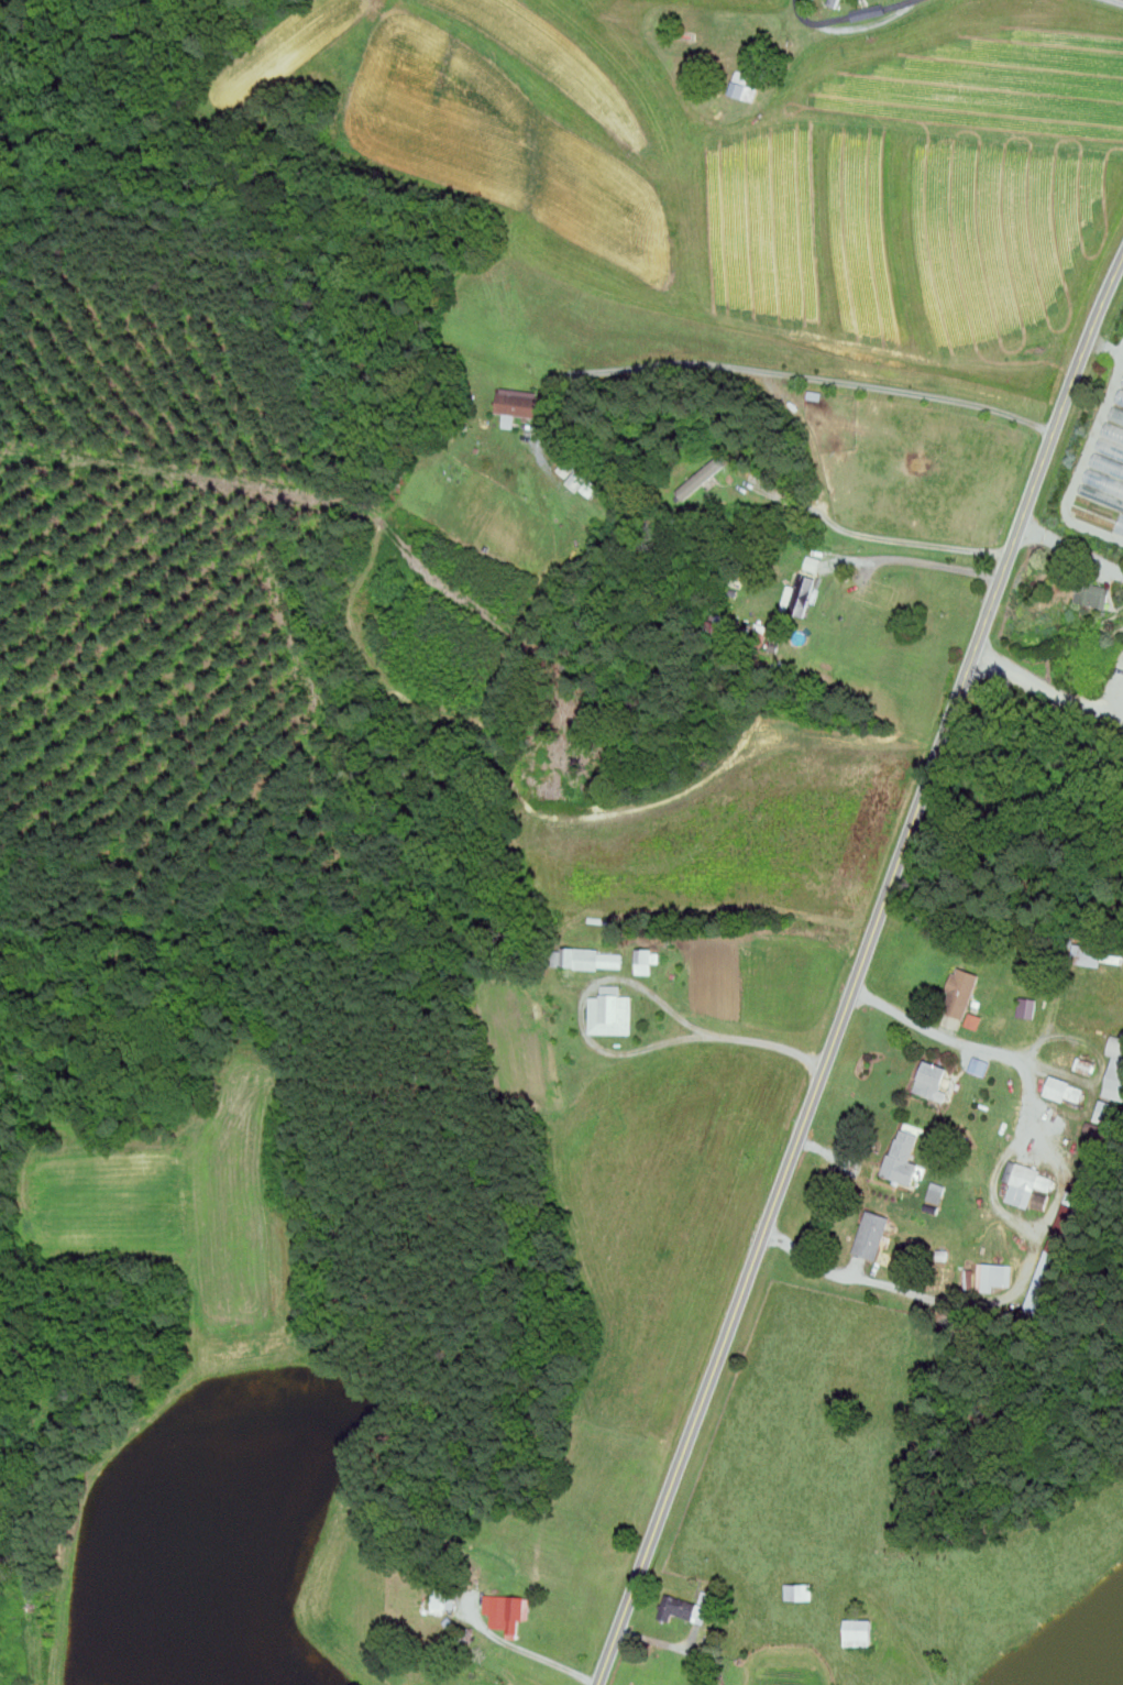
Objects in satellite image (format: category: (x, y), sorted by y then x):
road: (1120, 0)
road: (851, 28)
building: (742, 87)
road: (1107, 343)
road: (777, 371)
building: (1122, 386)
building: (517, 403)
road: (1083, 461)
building: (1108, 461)
building: (581, 481)
building: (1121, 528)
road: (874, 535)
road: (1071, 548)
building: (805, 595)
building: (1092, 595)
building: (716, 631)
road: (1045, 688)
building: (1088, 955)
building: (646, 960)
building: (584, 961)
road: (858, 971)
road: (623, 980)
building: (960, 994)
building: (1026, 1008)
building: (610, 1013)
building: (1070, 1060)
building: (1115, 1071)
building: (932, 1080)
building: (1066, 1092)
building: (1105, 1114)
road: (1017, 1137)
building: (903, 1156)
building: (1027, 1185)
building: (871, 1235)
building: (1055, 1259)
building: (992, 1277)
building: (951, 1280)
road: (917, 1292)
building: (797, 1593)
building: (683, 1609)
building: (506, 1612)
building: (859, 1633)
road: (527, 1650)

